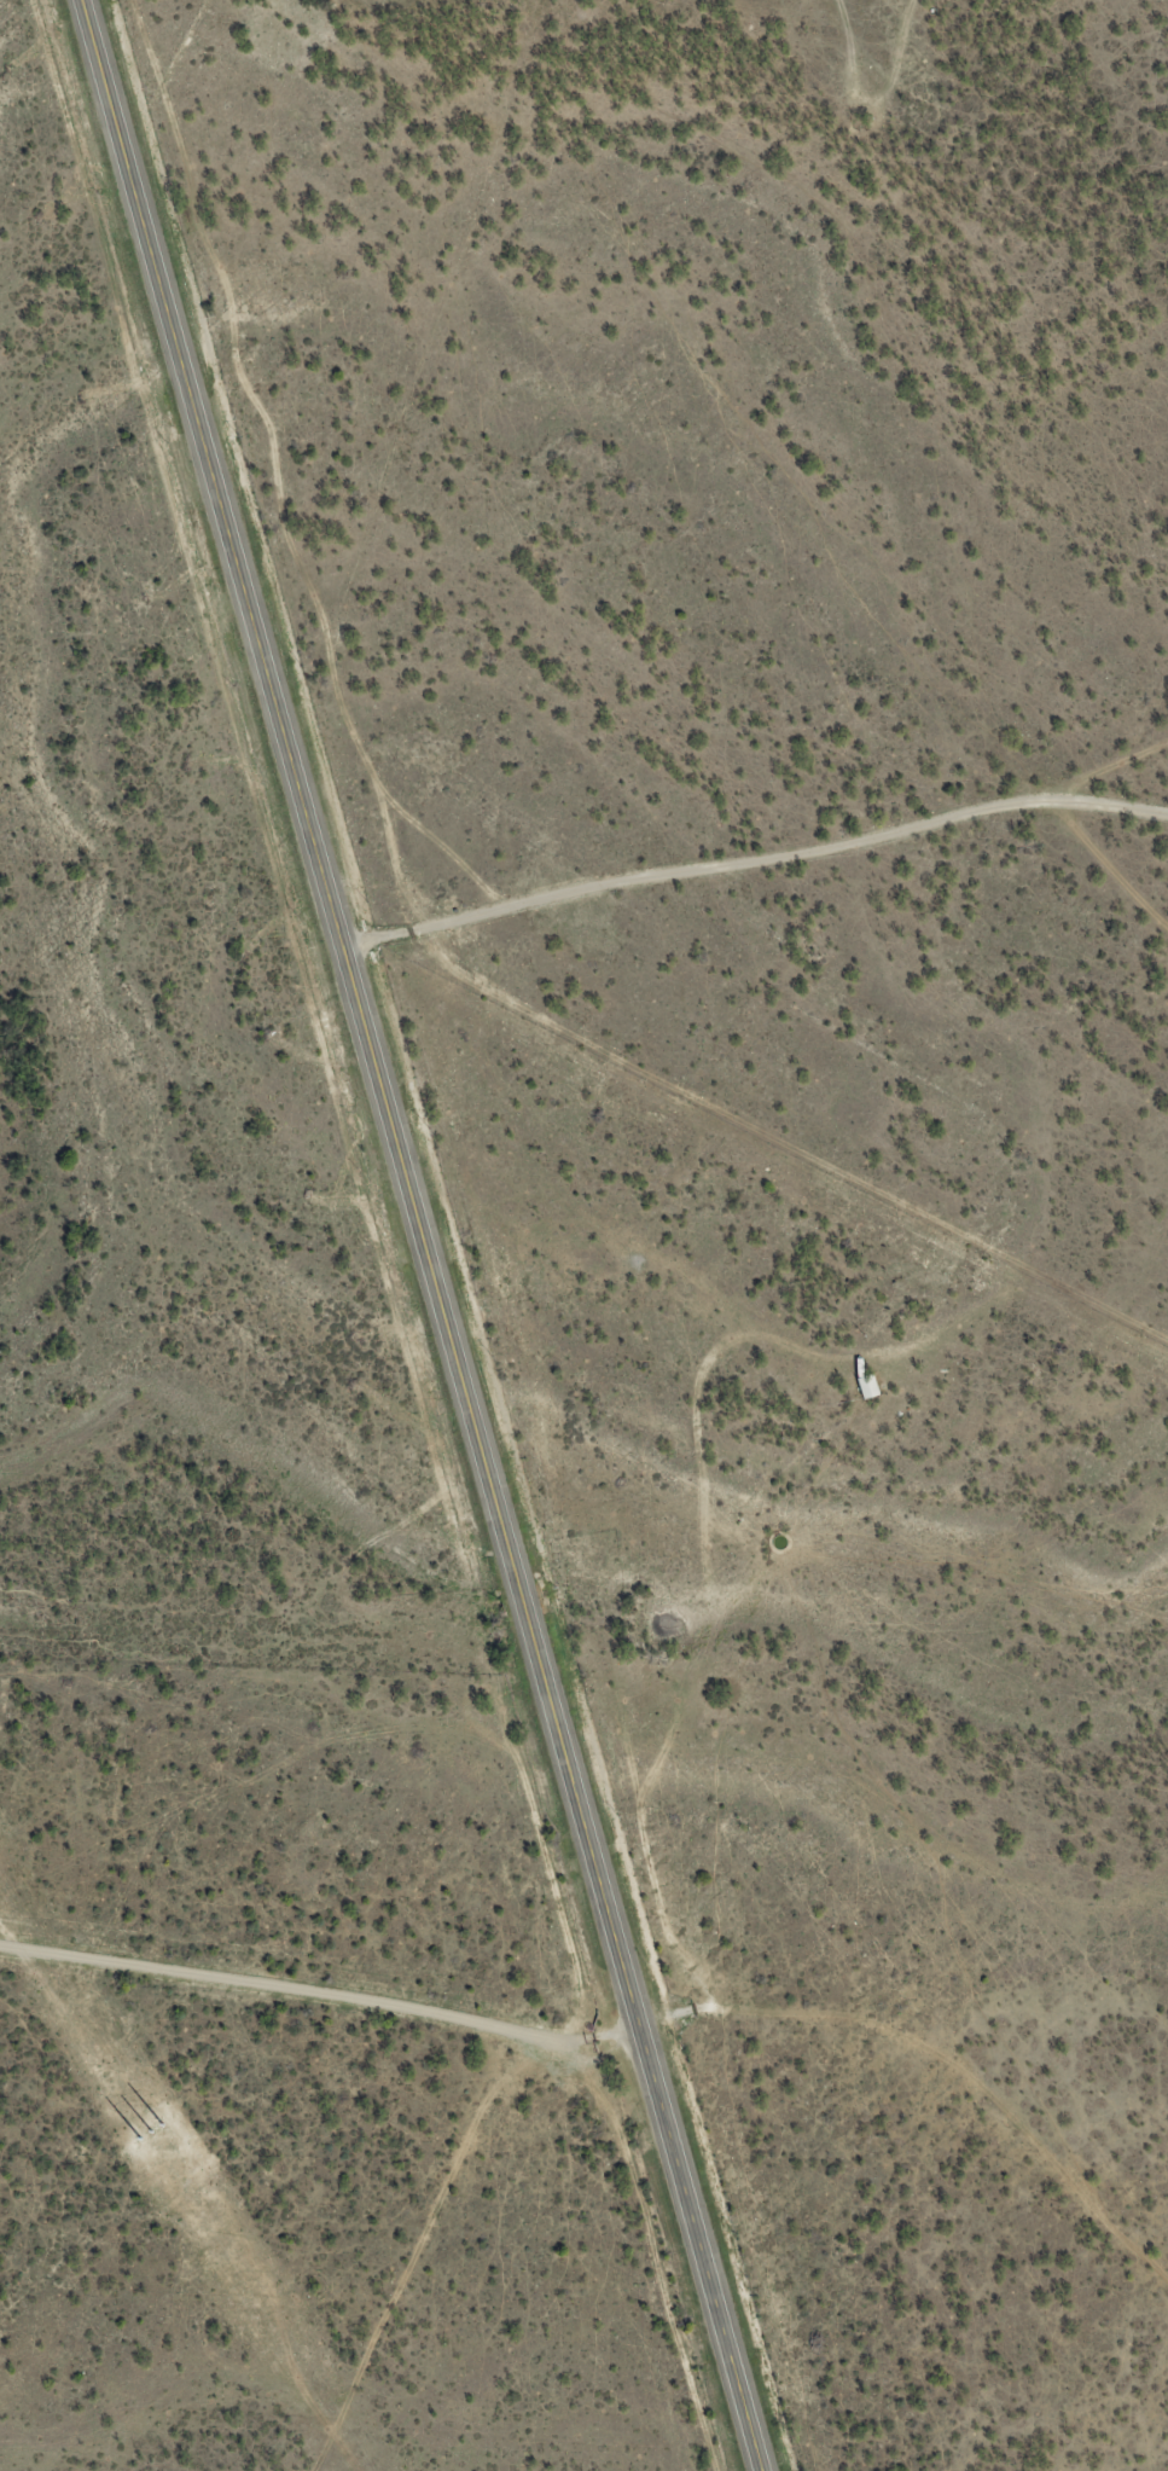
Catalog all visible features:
road: (422, 1235)
building: (870, 1386)
road: (260, 1991)
power tower: (152, 2144)
road: (418, 2197)

